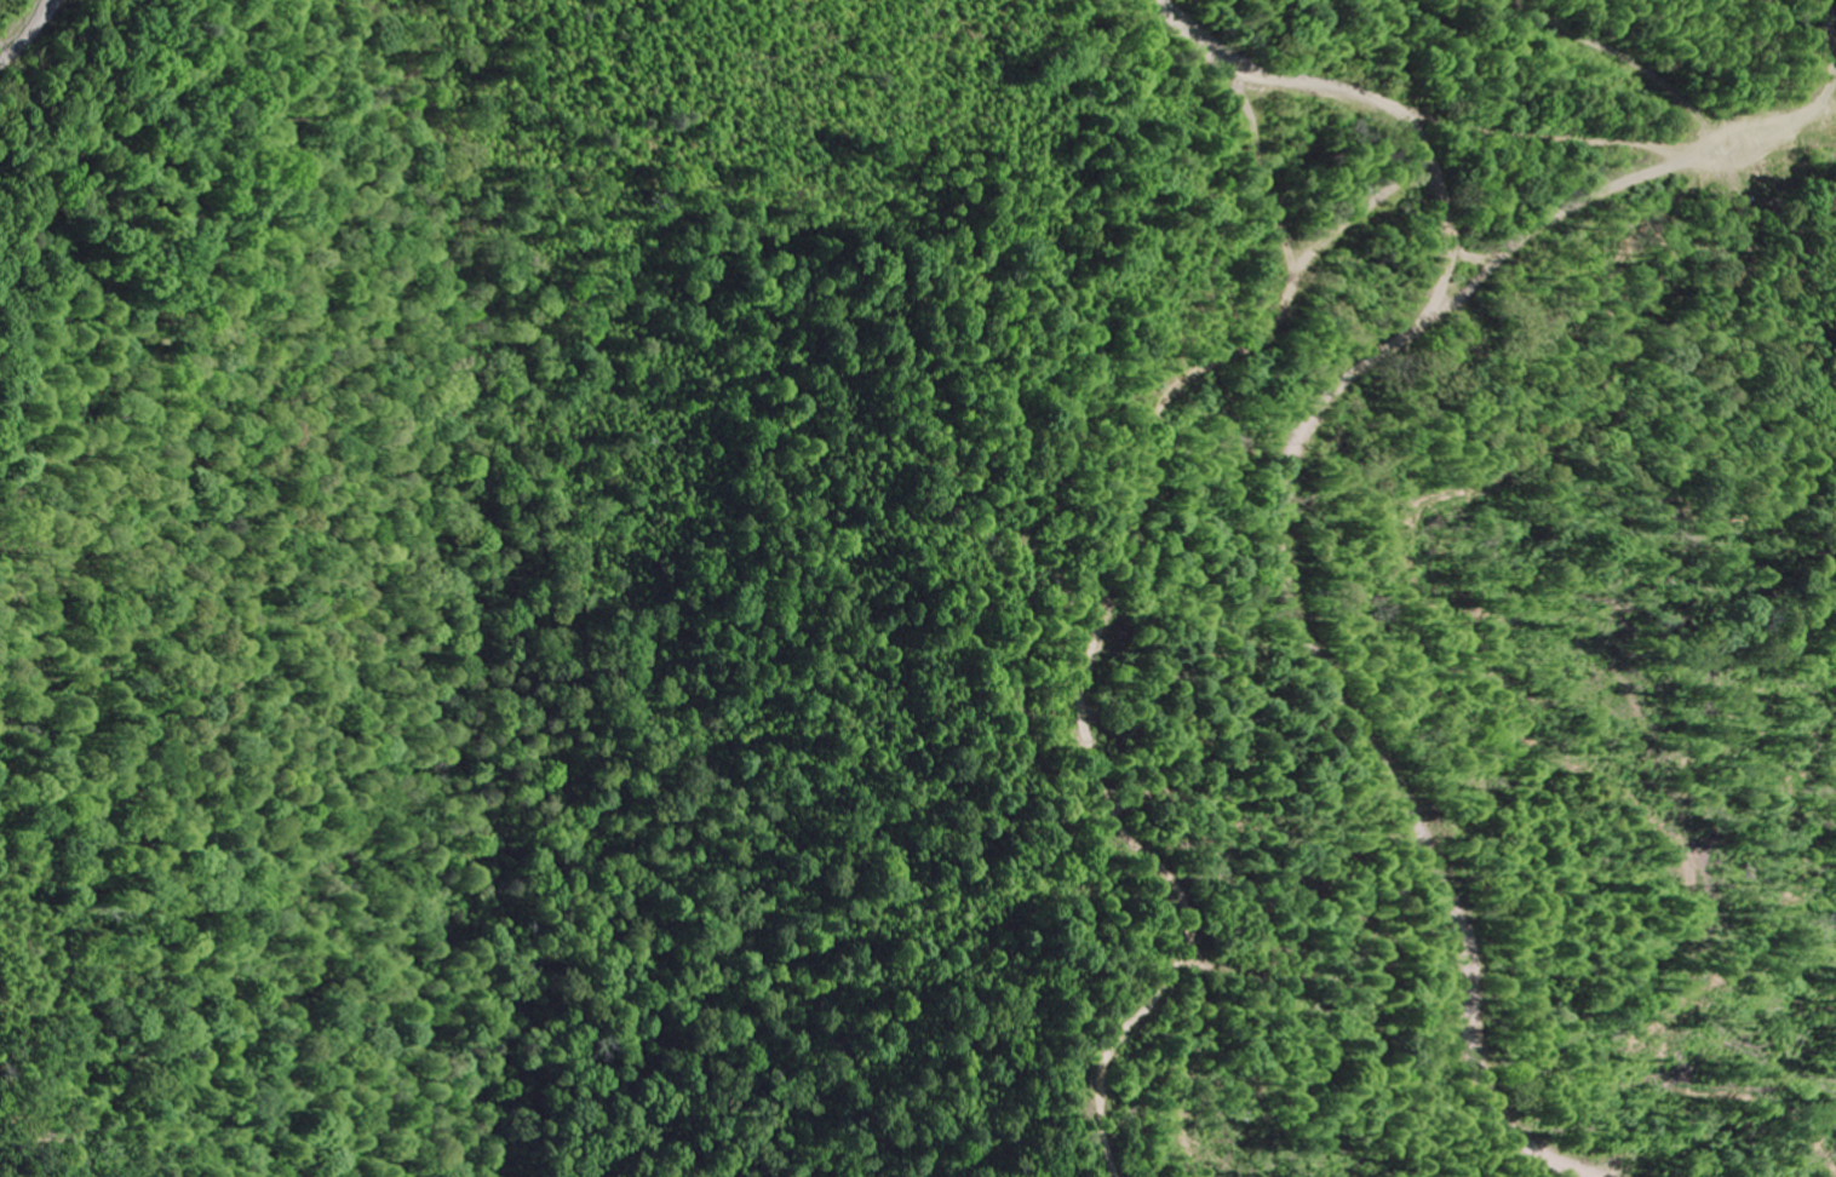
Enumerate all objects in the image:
road: (24, 29)
road: (1298, 524)

